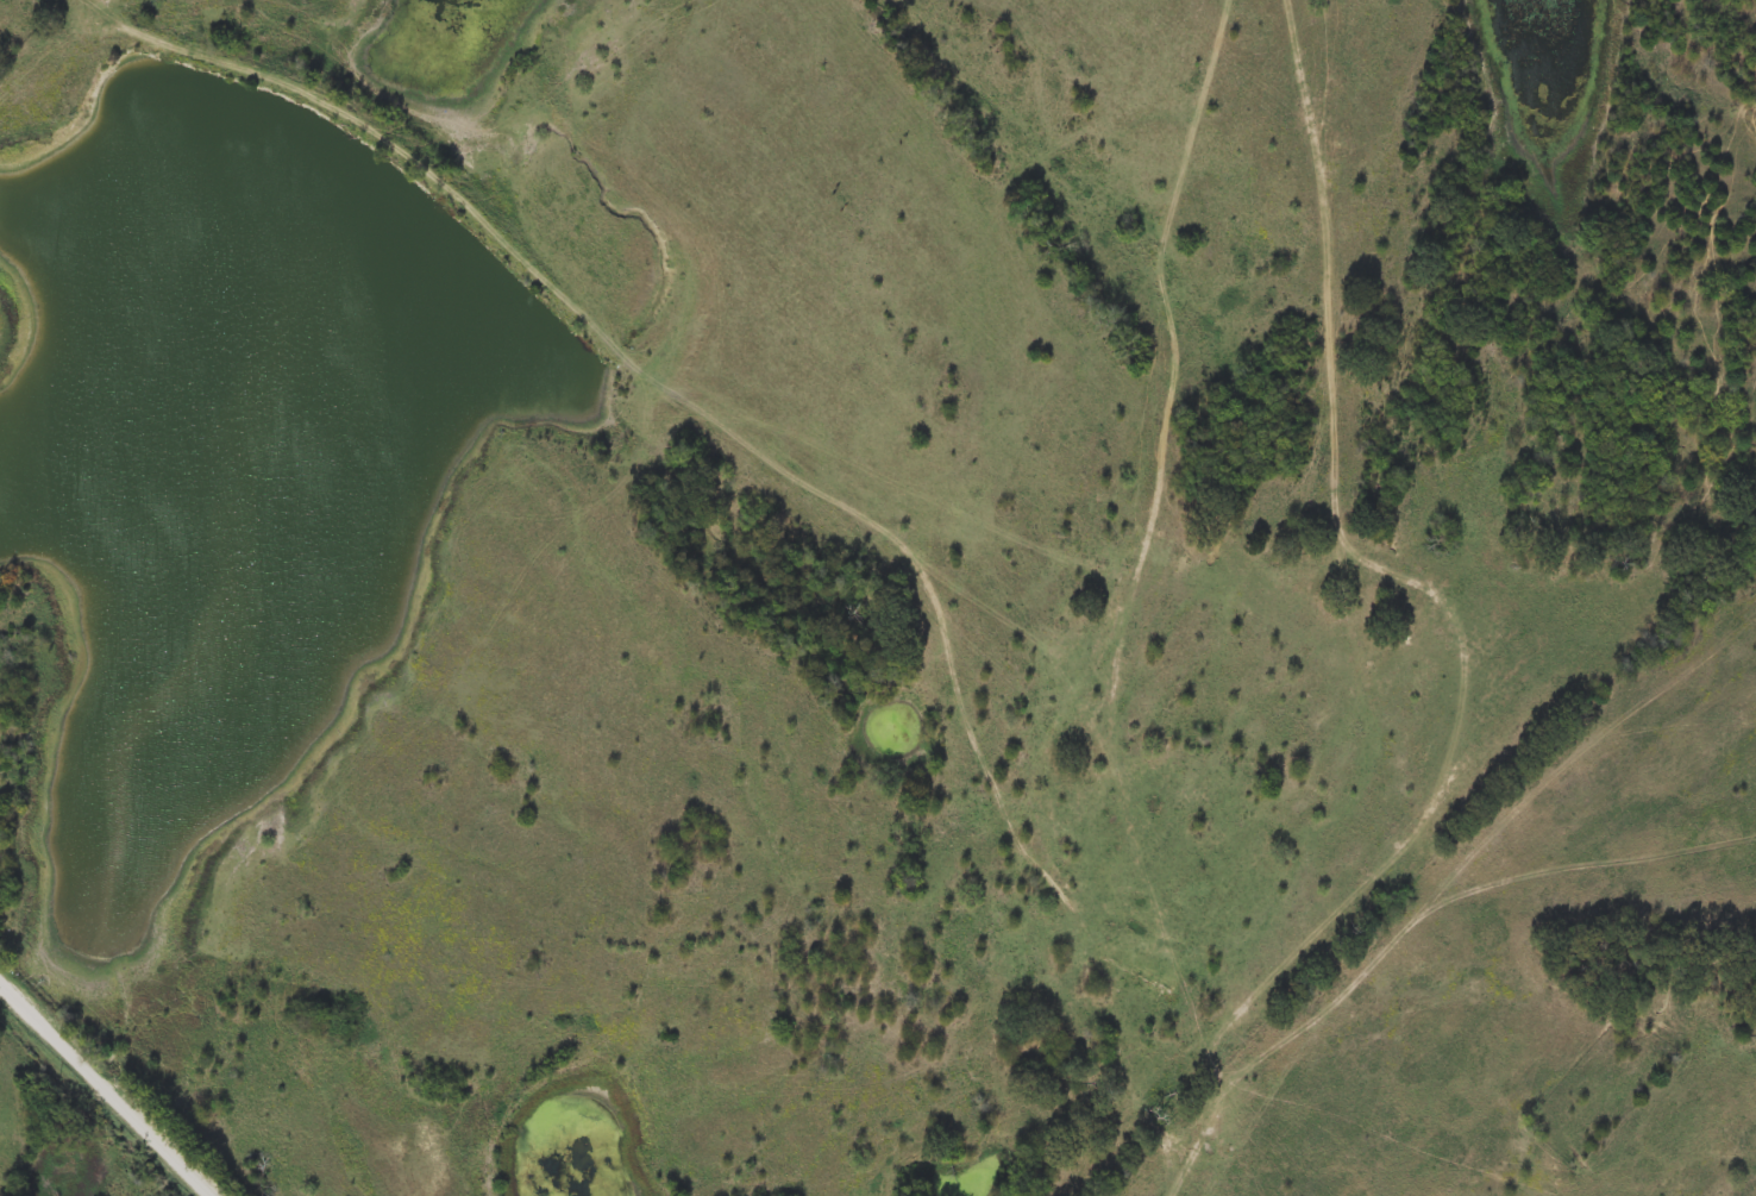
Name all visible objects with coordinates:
road: (107, 1088)

